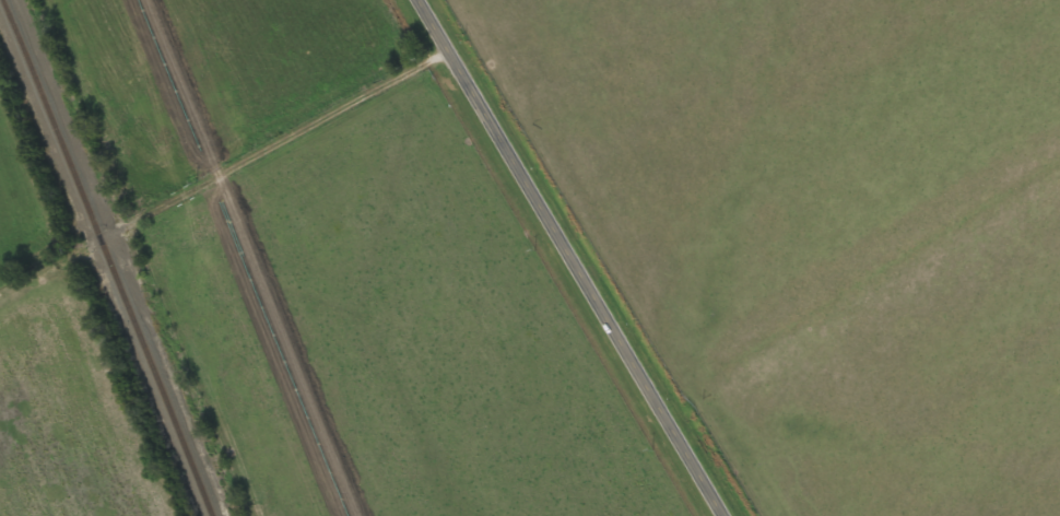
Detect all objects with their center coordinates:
road: (271, 146)
railway: (91, 219)
road: (566, 258)
road: (49, 268)
railway: (198, 476)
road: (684, 502)

